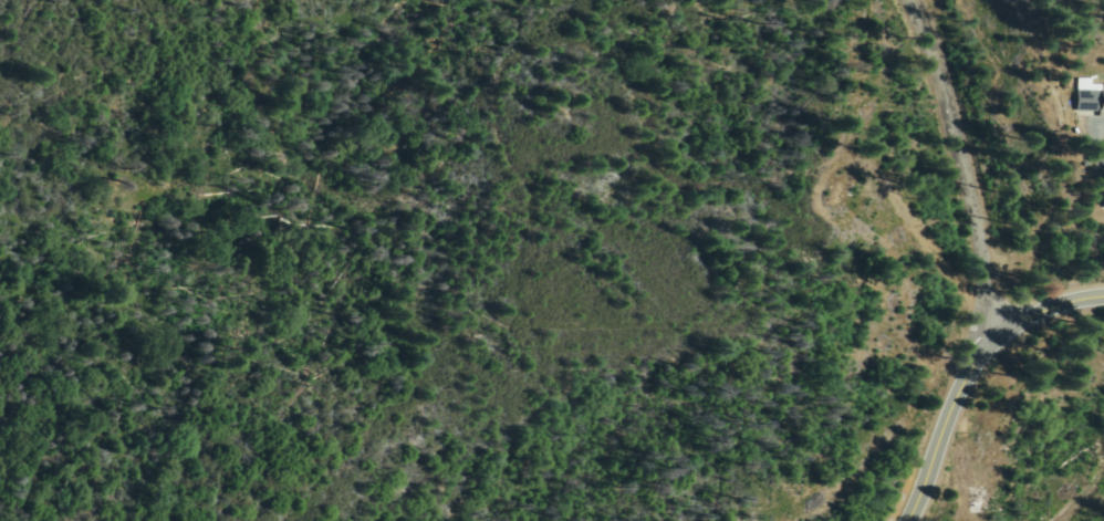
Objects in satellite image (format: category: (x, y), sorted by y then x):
building: (1092, 93)
road: (951, 126)
road: (1040, 268)
road: (862, 363)
road: (969, 379)

